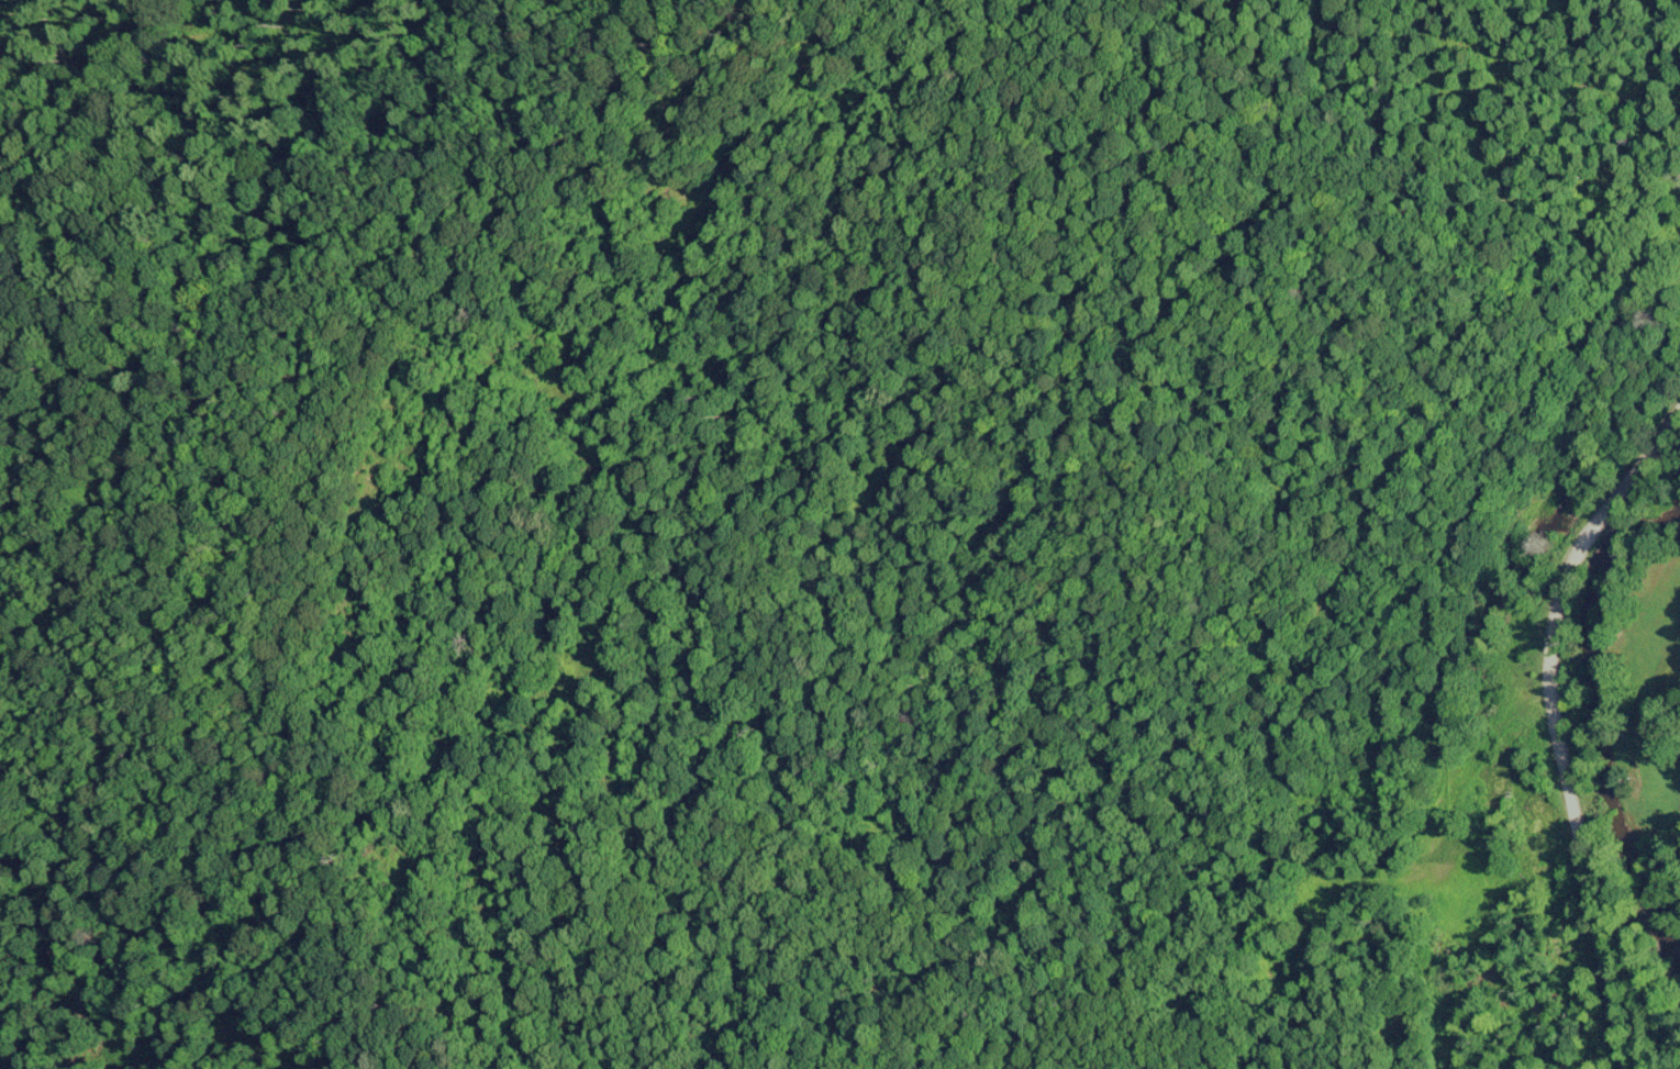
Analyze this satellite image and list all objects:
road: (1556, 719)

